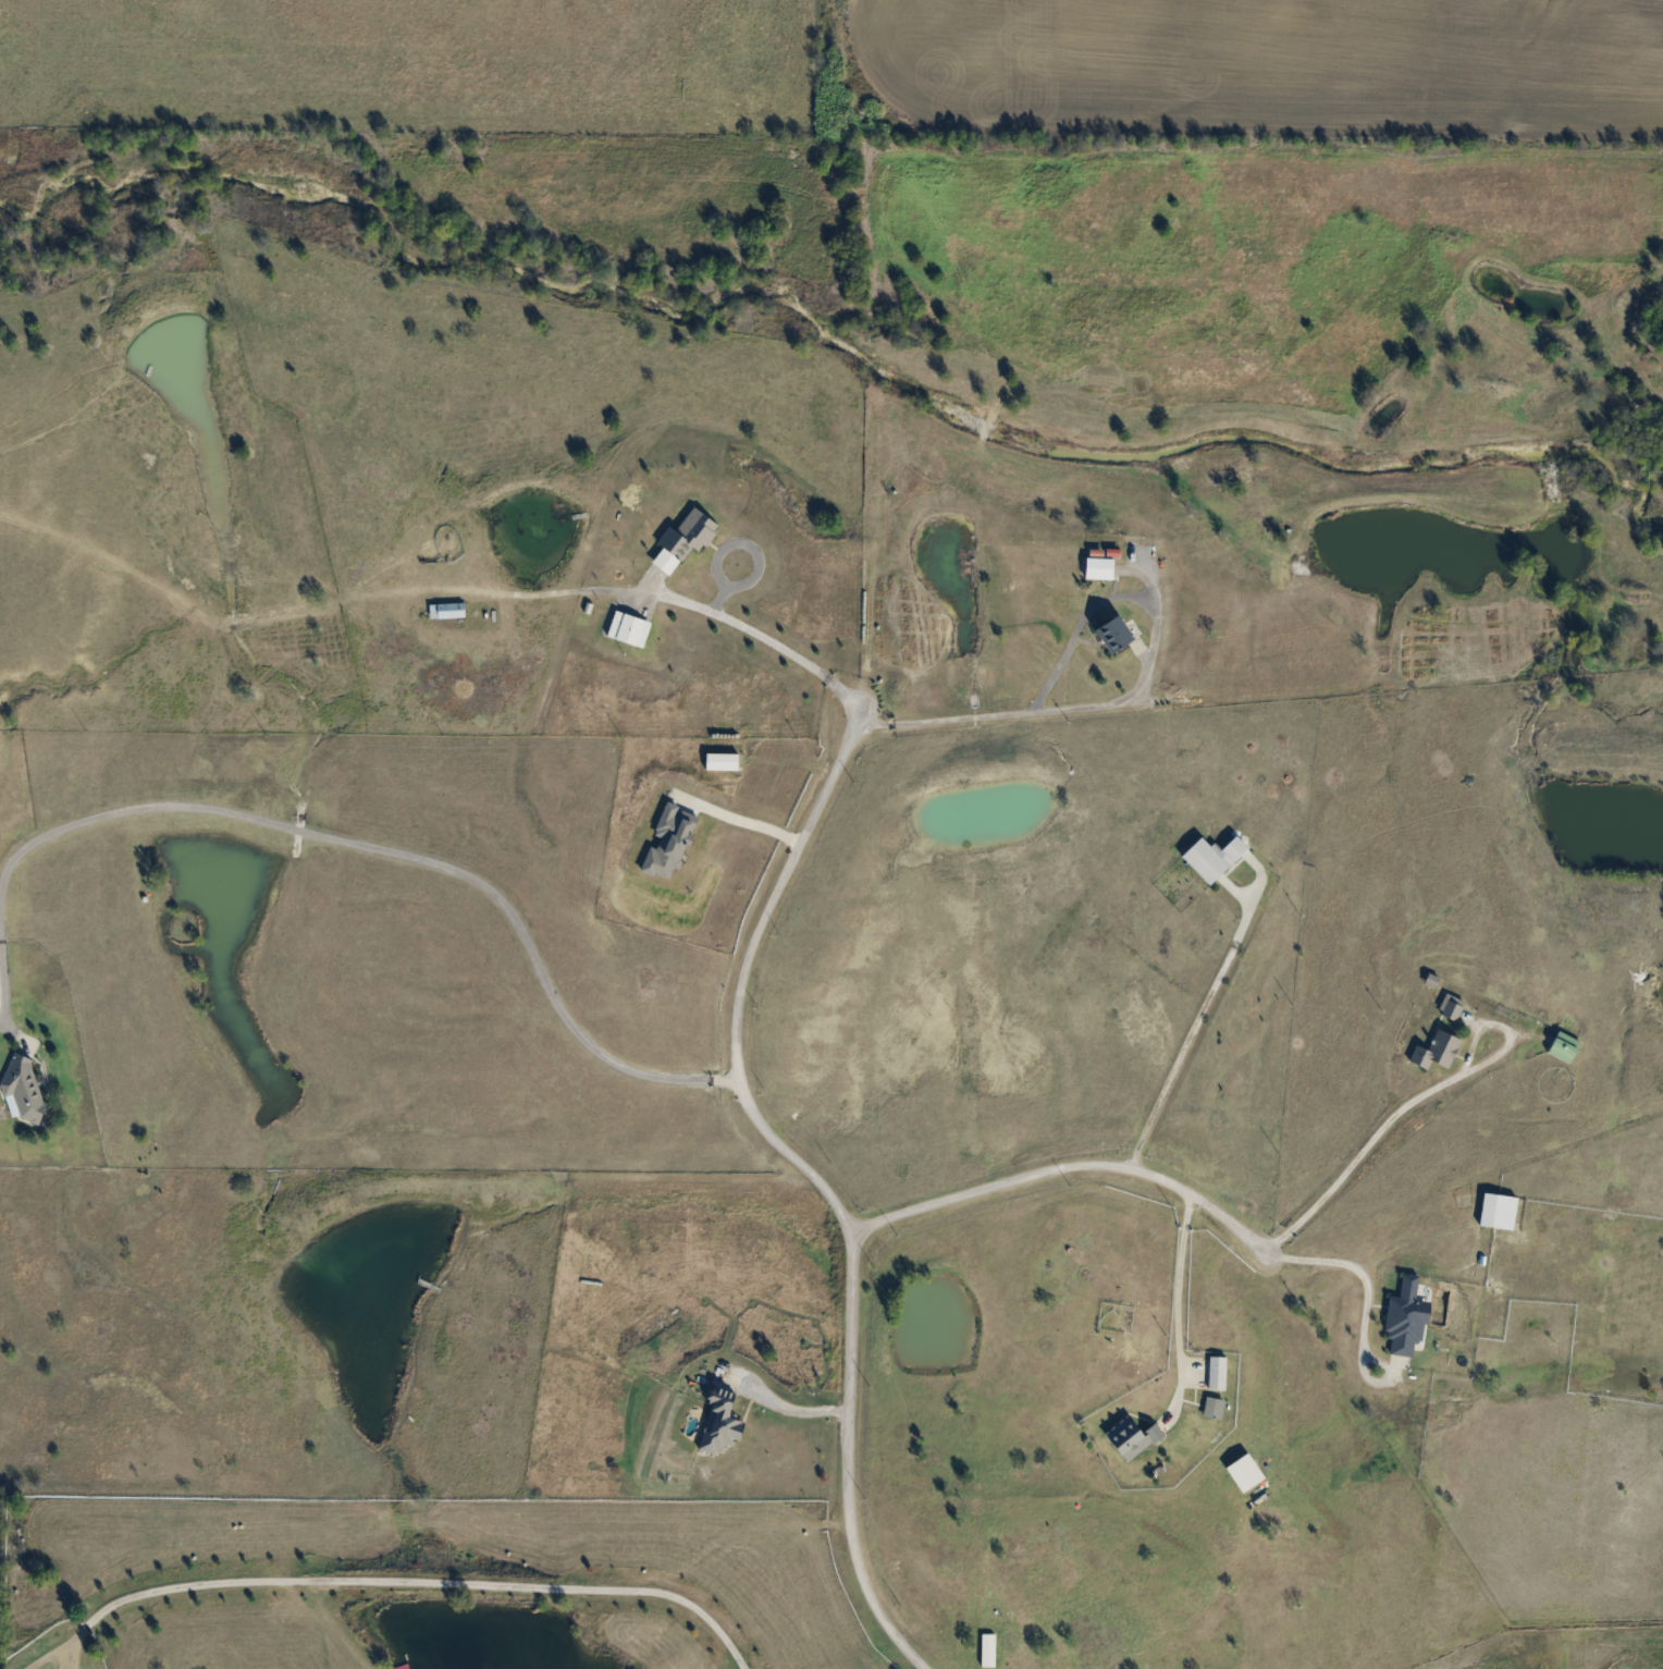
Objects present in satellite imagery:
building: (680, 539)
building: (1095, 568)
building: (443, 610)
building: (625, 628)
building: (1109, 633)
road: (778, 649)
road: (1014, 716)
building: (718, 761)
road: (739, 821)
road: (338, 845)
building: (1209, 857)
building: (1448, 1006)
road: (1192, 1035)
building: (1561, 1046)
building: (1432, 1051)
building: (20, 1089)
road: (1412, 1106)
road: (1074, 1169)
road: (820, 1182)
road: (1365, 1281)
road: (1177, 1306)
building: (1402, 1317)
building: (1214, 1372)
road: (781, 1407)
building: (1209, 1408)
building: (717, 1424)
building: (1125, 1438)
road: (406, 1579)
building: (984, 1649)
road: (35, 1655)

